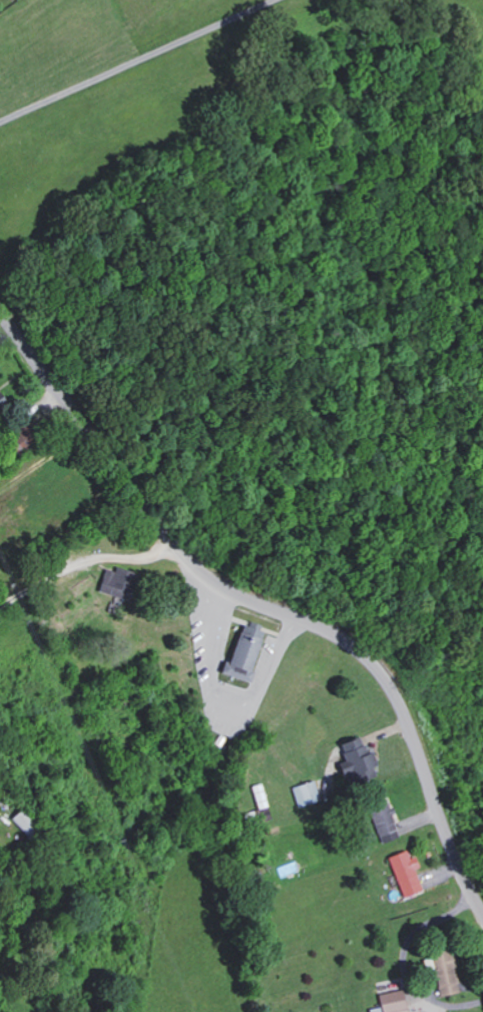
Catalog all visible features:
crop: (147, 12)
road: (135, 62)
building: (0, 402)
road: (83, 561)
road: (258, 609)
building: (244, 655)
building: (355, 761)
building: (260, 803)
building: (383, 820)
building: (23, 822)
building: (405, 872)
building: (443, 970)
building: (390, 1002)

